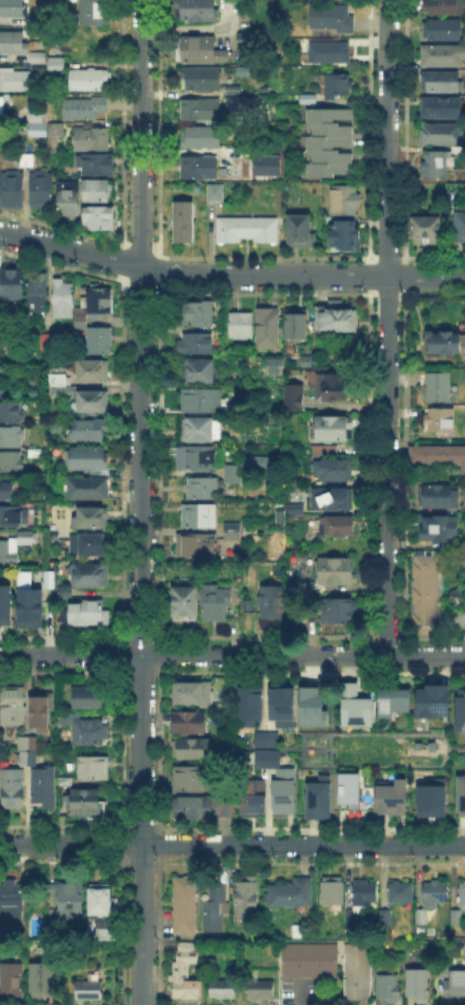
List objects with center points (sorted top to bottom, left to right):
building: (443, 5)
building: (13, 9)
building: (197, 10)
building: (95, 12)
building: (332, 21)
building: (442, 31)
building: (12, 41)
building: (247, 42)
building: (56, 49)
building: (197, 49)
building: (325, 52)
building: (35, 55)
building: (444, 56)
building: (54, 63)
building: (199, 77)
building: (441, 79)
building: (88, 80)
building: (16, 82)
building: (339, 87)
building: (230, 88)
building: (305, 97)
building: (242, 102)
building: (441, 107)
building: (2, 108)
building: (84, 108)
building: (199, 108)
building: (36, 112)
building: (36, 128)
building: (52, 131)
building: (443, 135)
building: (93, 139)
building: (200, 139)
building: (328, 143)
building: (28, 162)
building: (94, 162)
building: (265, 164)
building: (438, 168)
building: (199, 169)
building: (43, 190)
building: (13, 191)
building: (213, 191)
building: (98, 192)
building: (69, 201)
building: (344, 201)
building: (99, 219)
building: (184, 223)
building: (461, 226)
building: (244, 228)
building: (297, 229)
building: (426, 229)
building: (347, 236)
road: (229, 275)
building: (12, 285)
building: (38, 294)
building: (63, 298)
building: (99, 301)
building: (197, 314)
building: (336, 317)
building: (81, 318)
building: (297, 325)
building: (242, 327)
road: (387, 327)
building: (268, 329)
building: (46, 340)
building: (101, 341)
building: (196, 344)
building: (444, 344)
building: (271, 365)
building: (278, 370)
building: (94, 372)
building: (200, 373)
building: (54, 379)
building: (63, 384)
building: (330, 387)
building: (440, 389)
building: (295, 398)
building: (201, 402)
building: (94, 403)
building: (11, 412)
building: (442, 422)
building: (90, 430)
building: (198, 430)
building: (334, 430)
building: (11, 438)
building: (322, 448)
building: (439, 457)
building: (199, 458)
building: (88, 459)
building: (258, 463)
building: (330, 464)
building: (12, 465)
building: (234, 474)
building: (88, 488)
building: (203, 489)
building: (8, 492)
building: (439, 497)
building: (331, 499)
road: (138, 502)
building: (297, 510)
building: (13, 516)
building: (199, 518)
building: (92, 519)
building: (337, 527)
building: (439, 529)
building: (233, 533)
building: (29, 539)
building: (91, 546)
building: (199, 547)
building: (9, 553)
building: (464, 562)
building: (338, 572)
building: (91, 576)
building: (49, 579)
building: (66, 593)
building: (425, 595)
building: (456, 596)
building: (272, 602)
building: (185, 603)
building: (5, 604)
building: (215, 604)
building: (30, 606)
building: (85, 613)
building: (340, 613)
road: (232, 654)
building: (193, 694)
building: (88, 699)
building: (430, 699)
building: (392, 700)
building: (247, 702)
building: (279, 702)
building: (353, 705)
building: (14, 706)
building: (310, 706)
building: (459, 710)
building: (41, 712)
building: (190, 724)
building: (87, 730)
building: (264, 738)
building: (192, 750)
building: (28, 751)
building: (265, 757)
building: (94, 769)
building: (190, 780)
building: (67, 783)
building: (45, 788)
building: (13, 790)
building: (281, 790)
building: (346, 792)
building: (460, 792)
building: (250, 795)
building: (394, 795)
building: (318, 797)
building: (429, 798)
building: (87, 802)
building: (204, 809)
road: (232, 842)
building: (333, 892)
building: (402, 893)
building: (436, 893)
building: (291, 894)
building: (365, 895)
building: (462, 896)
building: (248, 897)
building: (12, 900)
building: (69, 900)
building: (101, 901)
building: (186, 906)
building: (216, 908)
building: (418, 915)
building: (350, 918)
building: (386, 918)
building: (456, 918)
building: (108, 928)
building: (312, 962)
building: (186, 973)
building: (359, 973)
building: (14, 982)
building: (42, 982)
building: (420, 983)
building: (455, 988)
building: (389, 989)
building: (90, 990)
building: (223, 990)
building: (261, 993)

